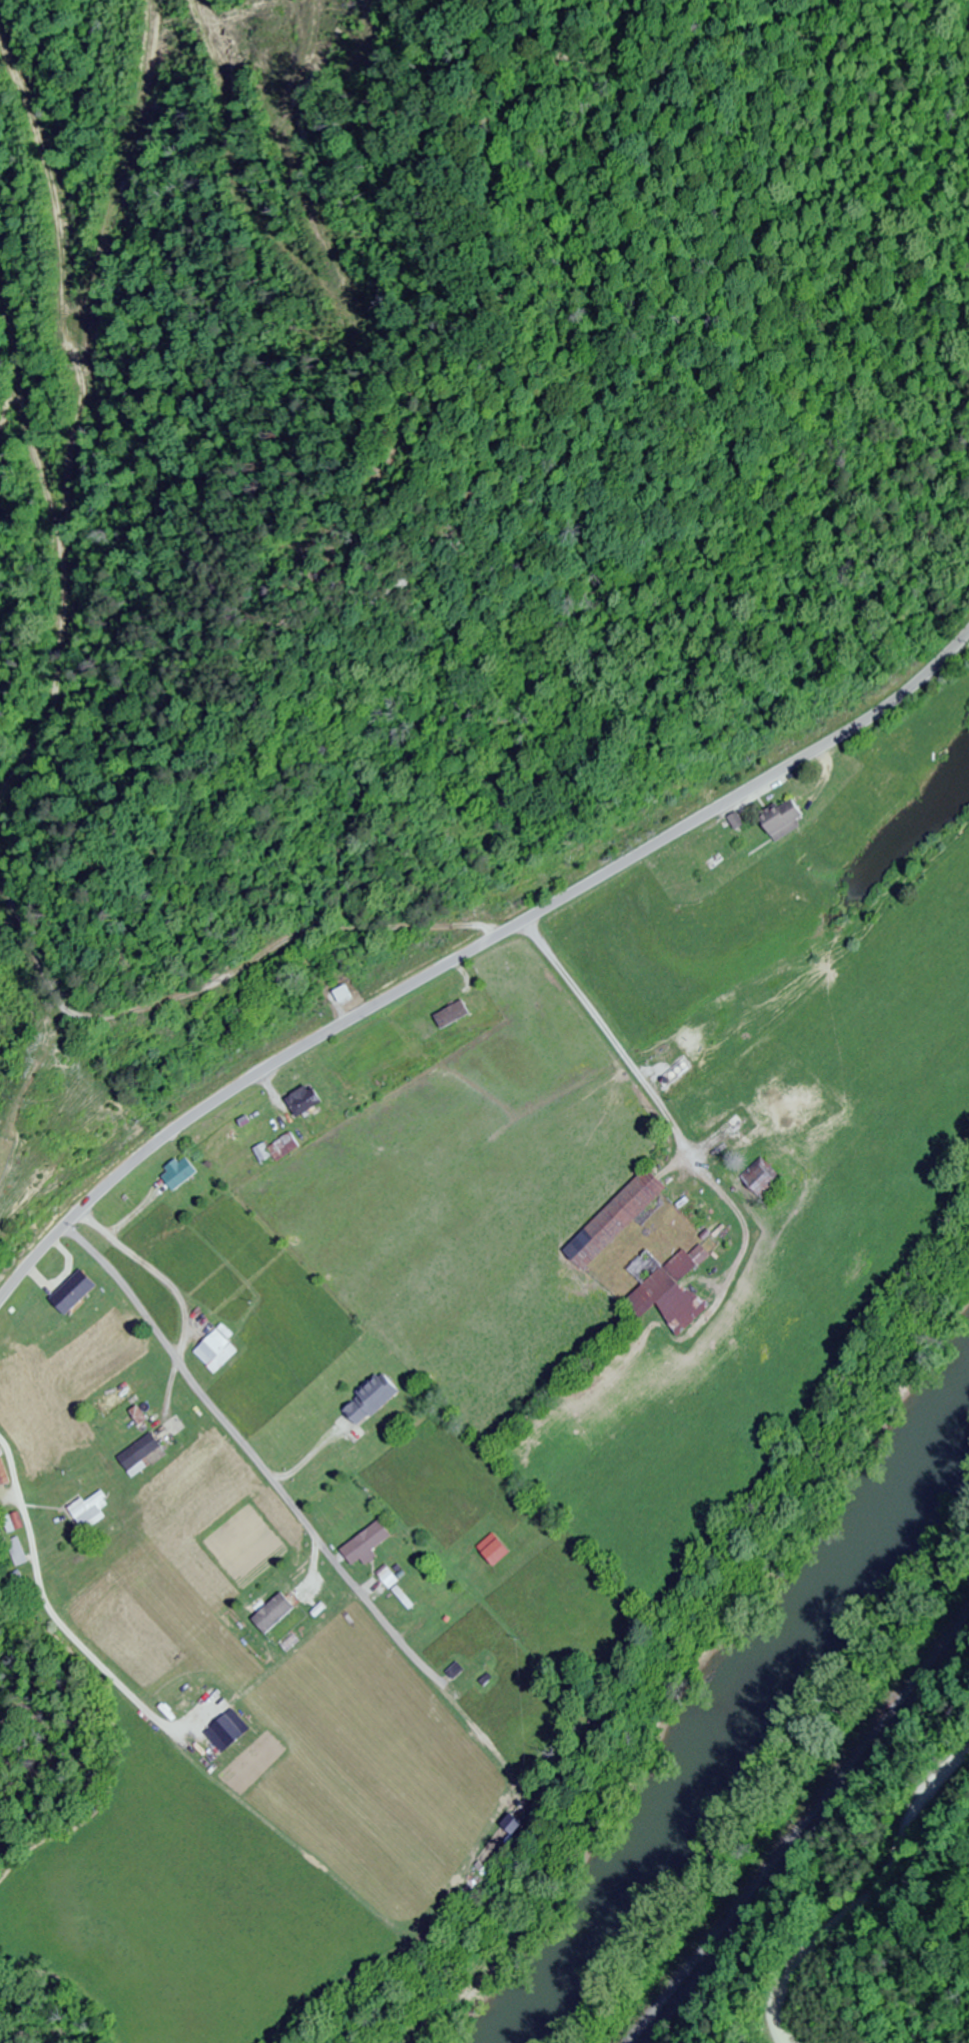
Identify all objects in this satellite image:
building: (779, 819)
road: (471, 953)
building: (340, 995)
building: (449, 1014)
building: (299, 1100)
building: (175, 1174)
building: (760, 1177)
building: (691, 1212)
building: (621, 1216)
building: (665, 1290)
building: (70, 1292)
building: (211, 1349)
building: (113, 1399)
building: (368, 1400)
building: (133, 1424)
building: (139, 1452)
building: (3, 1474)
building: (92, 1511)
building: (14, 1523)
building: (367, 1544)
building: (493, 1550)
building: (19, 1552)
building: (392, 1575)
building: (279, 1616)
building: (469, 1669)
building: (184, 1706)
river: (732, 1718)
railway: (803, 1832)
road: (833, 1877)

